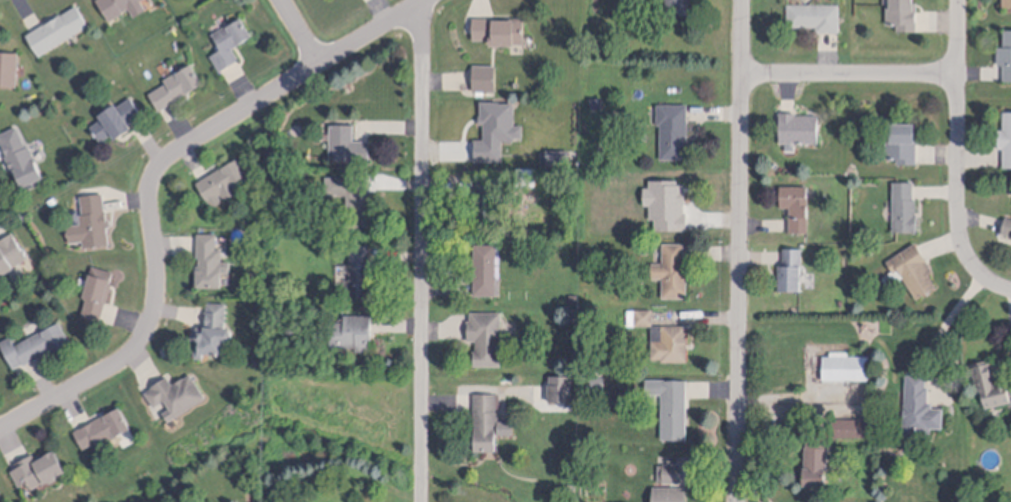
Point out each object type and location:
building: (1007, 2)
building: (121, 6)
building: (678, 6)
building: (815, 13)
building: (903, 13)
building: (628, 18)
building: (500, 25)
building: (58, 28)
road: (302, 31)
building: (230, 39)
building: (1005, 52)
building: (8, 66)
building: (485, 75)
road: (849, 76)
building: (177, 83)
building: (597, 100)
building: (117, 116)
building: (799, 124)
building: (673, 126)
building: (1006, 135)
building: (903, 138)
building: (347, 141)
road: (957, 141)
building: (20, 154)
building: (280, 154)
building: (279, 169)
building: (526, 173)
building: (223, 179)
road: (152, 182)
building: (526, 186)
building: (352, 196)
building: (487, 198)
building: (796, 203)
building: (904, 204)
building: (92, 219)
building: (1007, 223)
building: (645, 247)
building: (10, 250)
road: (740, 251)
road: (422, 253)
building: (211, 258)
building: (360, 266)
building: (791, 266)
building: (486, 267)
building: (914, 267)
building: (672, 268)
road: (996, 284)
building: (98, 290)
building: (574, 295)
building: (572, 310)
building: (640, 315)
building: (213, 327)
building: (353, 329)
road: (942, 331)
building: (486, 334)
building: (672, 341)
building: (35, 342)
building: (845, 364)
building: (595, 380)
building: (990, 381)
building: (561, 386)
building: (177, 390)
road: (791, 399)
building: (672, 403)
building: (920, 404)
building: (487, 419)
building: (104, 424)
building: (850, 425)
building: (816, 458)
building: (40, 466)
building: (670, 471)
building: (572, 488)
building: (0, 491)
building: (669, 493)
building: (0, 500)

